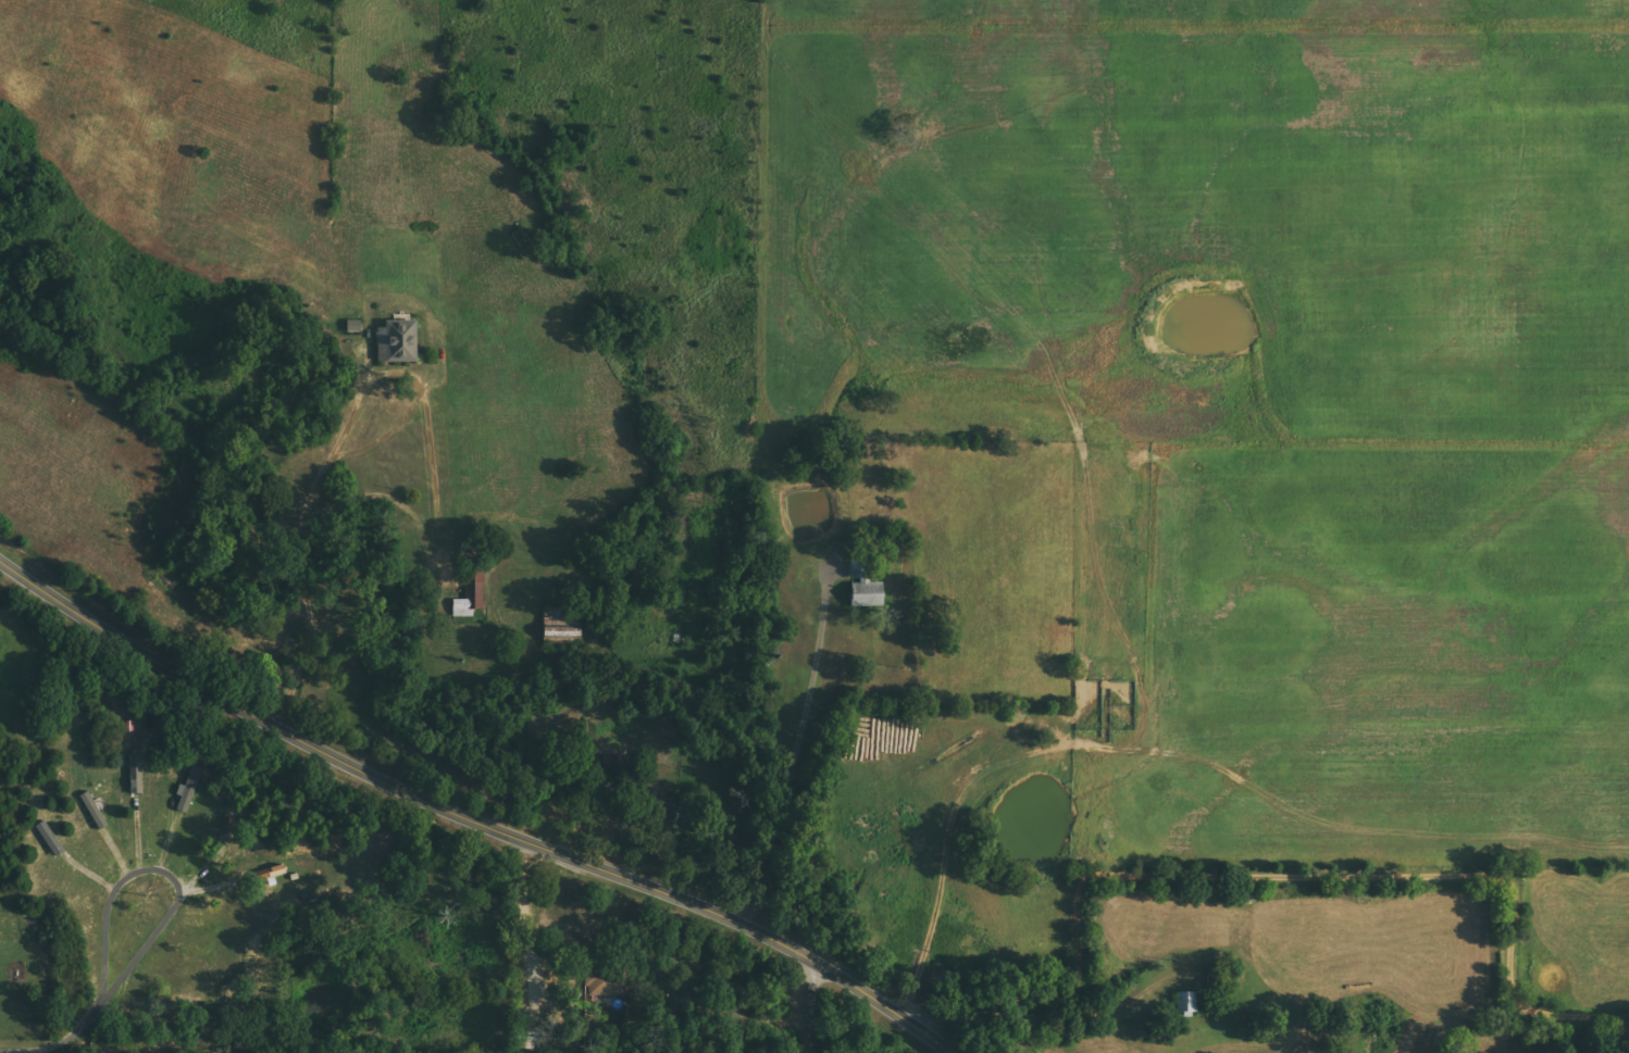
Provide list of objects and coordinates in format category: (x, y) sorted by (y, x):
building: (355, 326)
building: (401, 341)
building: (866, 586)
building: (474, 589)
building: (563, 626)
building: (138, 774)
building: (190, 791)
building: (97, 810)
road: (472, 814)
road: (768, 822)
building: (52, 839)
building: (273, 872)
road: (1274, 876)
building: (607, 983)
building: (1184, 1004)
road: (807, 1005)

